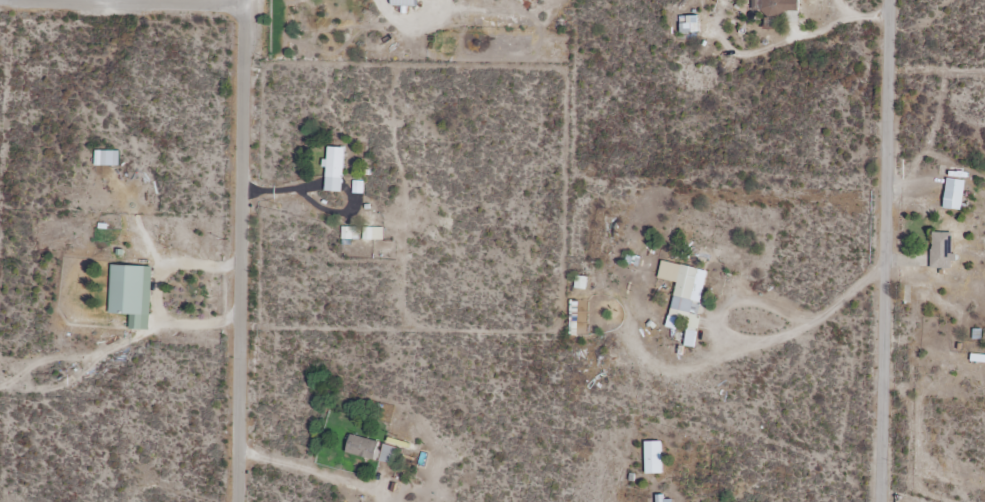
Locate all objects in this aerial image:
building: (404, 2)
road: (128, 3)
building: (772, 7)
building: (107, 157)
building: (335, 169)
building: (953, 195)
building: (348, 235)
road: (885, 250)
building: (940, 250)
road: (240, 251)
building: (127, 289)
building: (686, 296)
building: (572, 319)
building: (689, 339)
building: (361, 447)
building: (389, 454)
building: (652, 458)
building: (662, 500)

